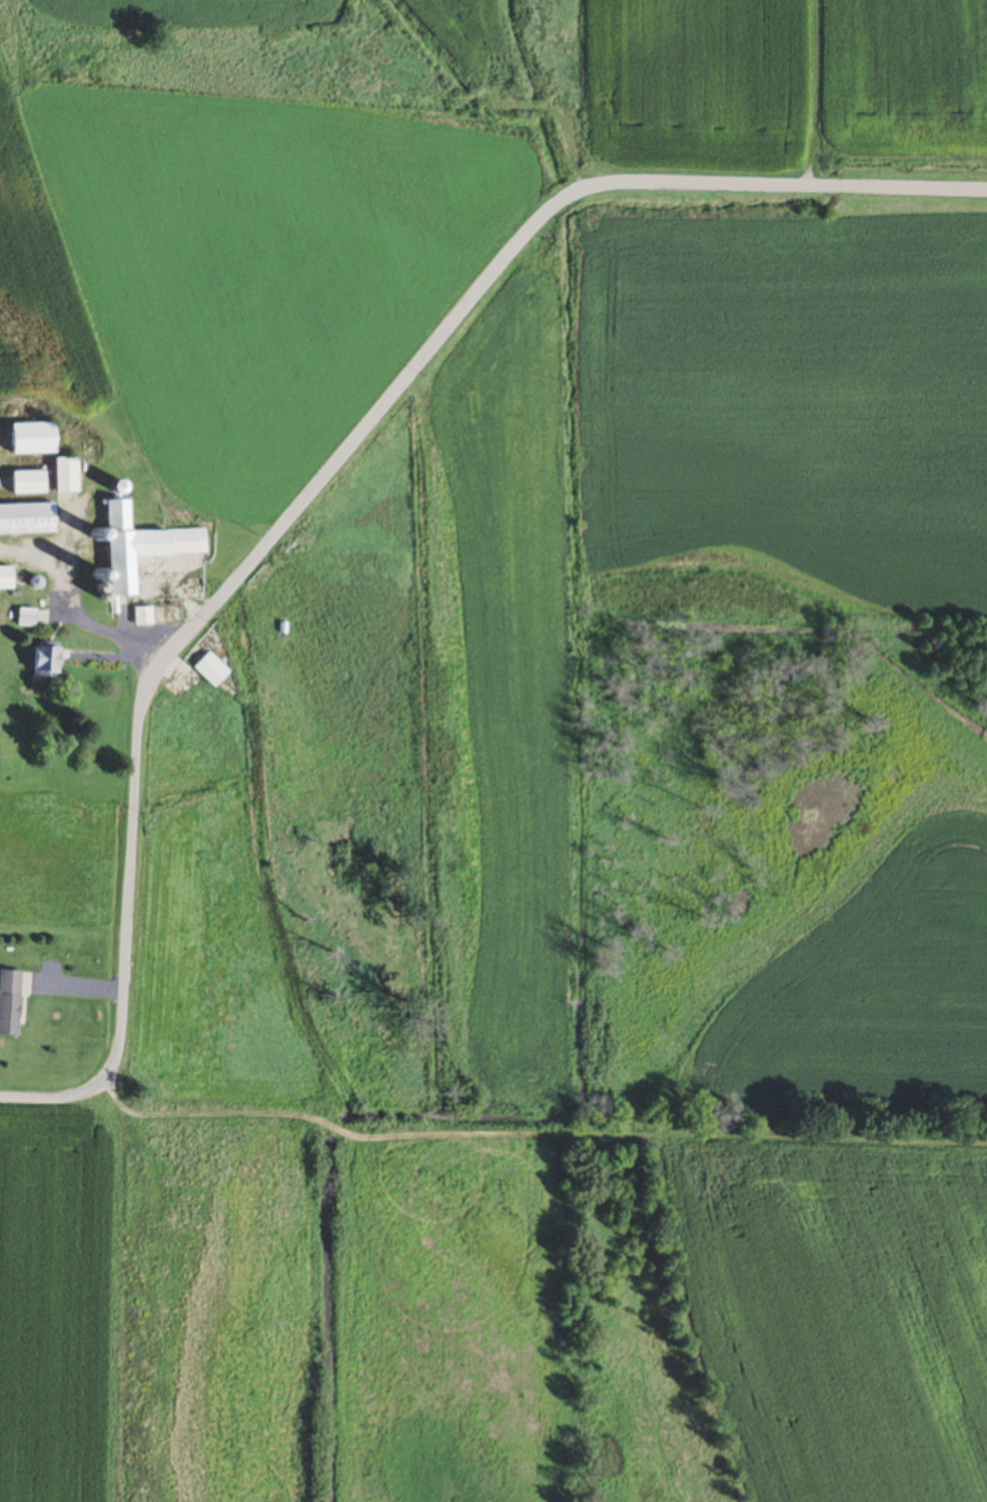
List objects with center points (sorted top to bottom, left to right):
building: (24, 439)
building: (57, 475)
road: (328, 477)
building: (21, 483)
building: (23, 519)
building: (134, 546)
building: (3, 579)
building: (139, 617)
building: (21, 619)
road: (115, 635)
building: (38, 661)
building: (206, 670)
building: (7, 1004)

